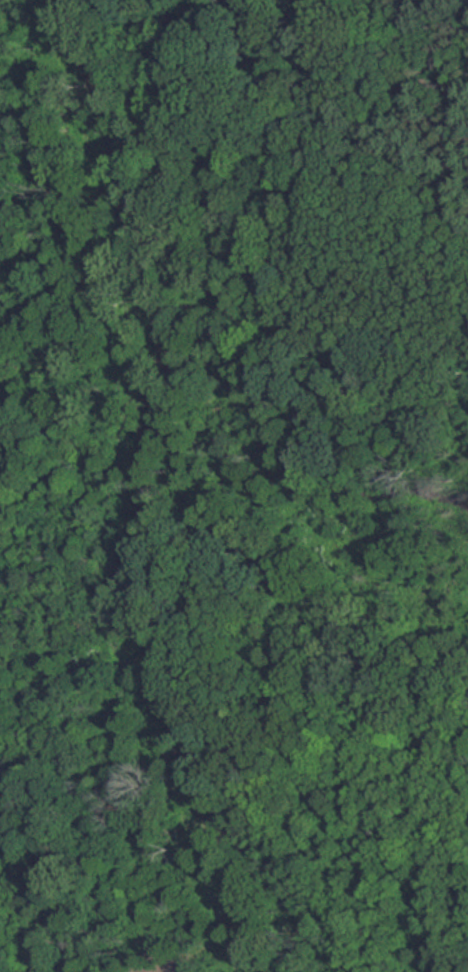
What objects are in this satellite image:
park: (303, 446)

